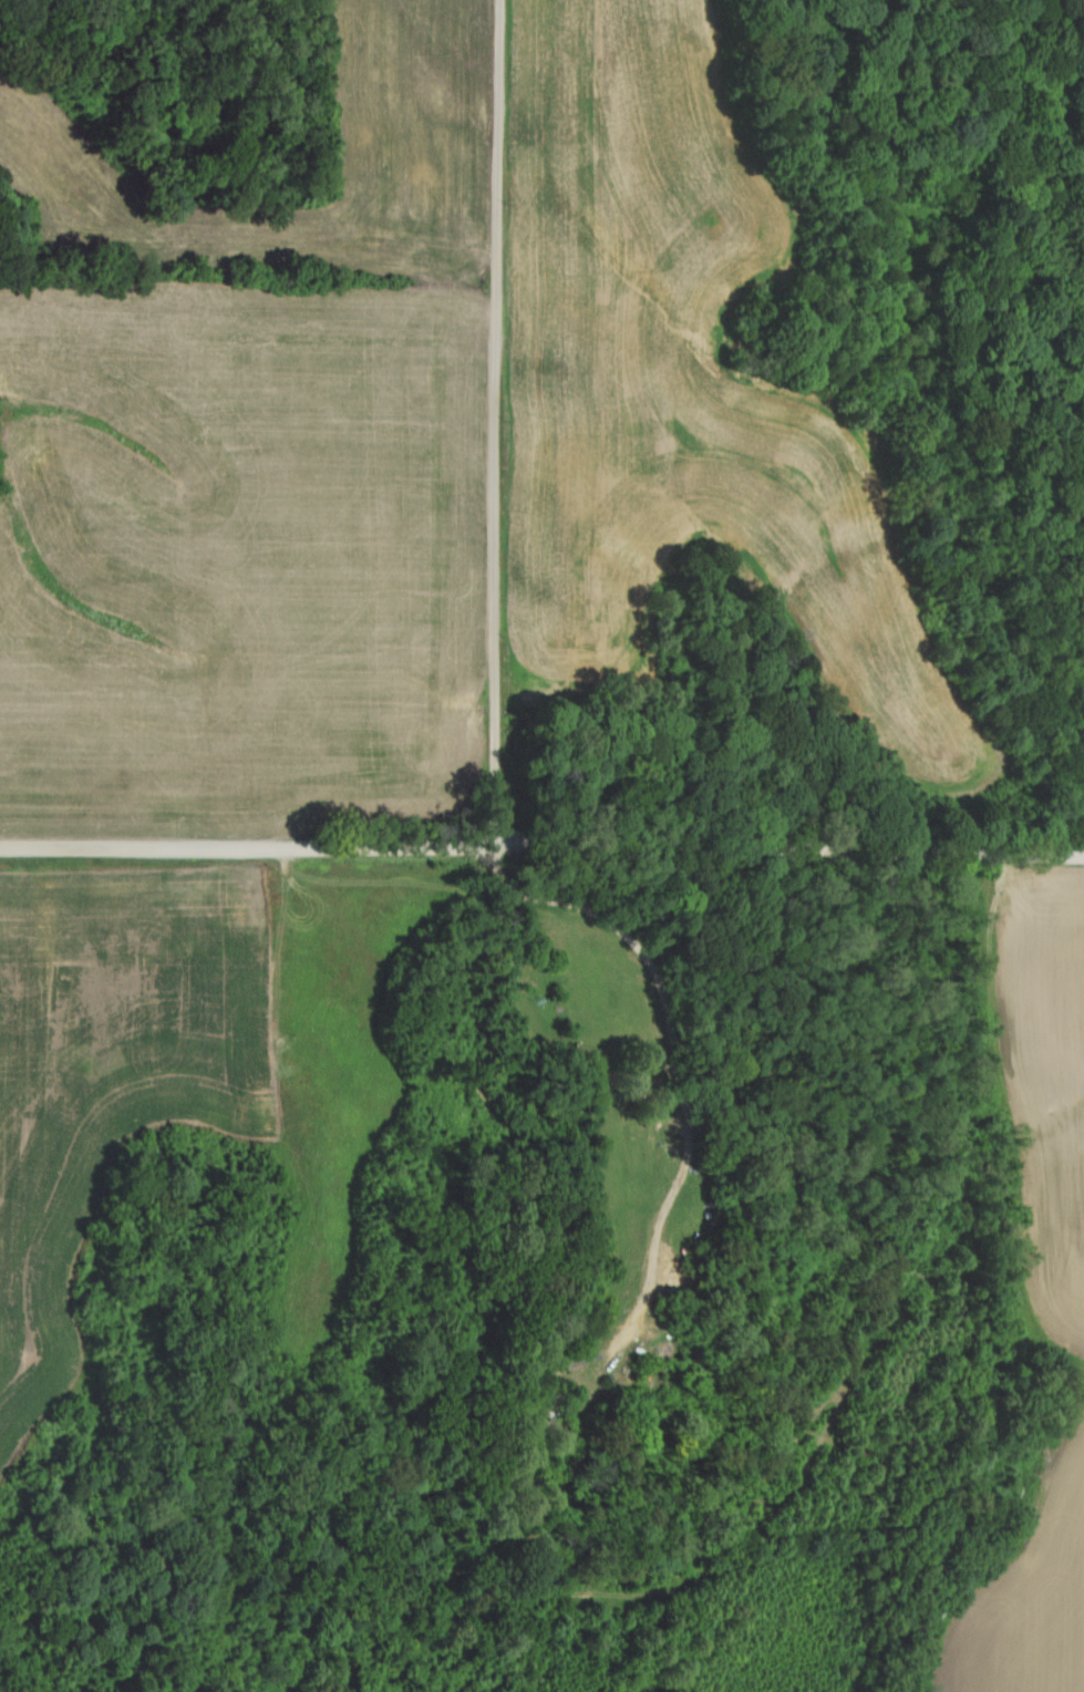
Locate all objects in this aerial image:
road: (493, 426)
building: (156, 797)
road: (541, 854)
road: (686, 1091)
building: (732, 1096)
building: (551, 1396)

